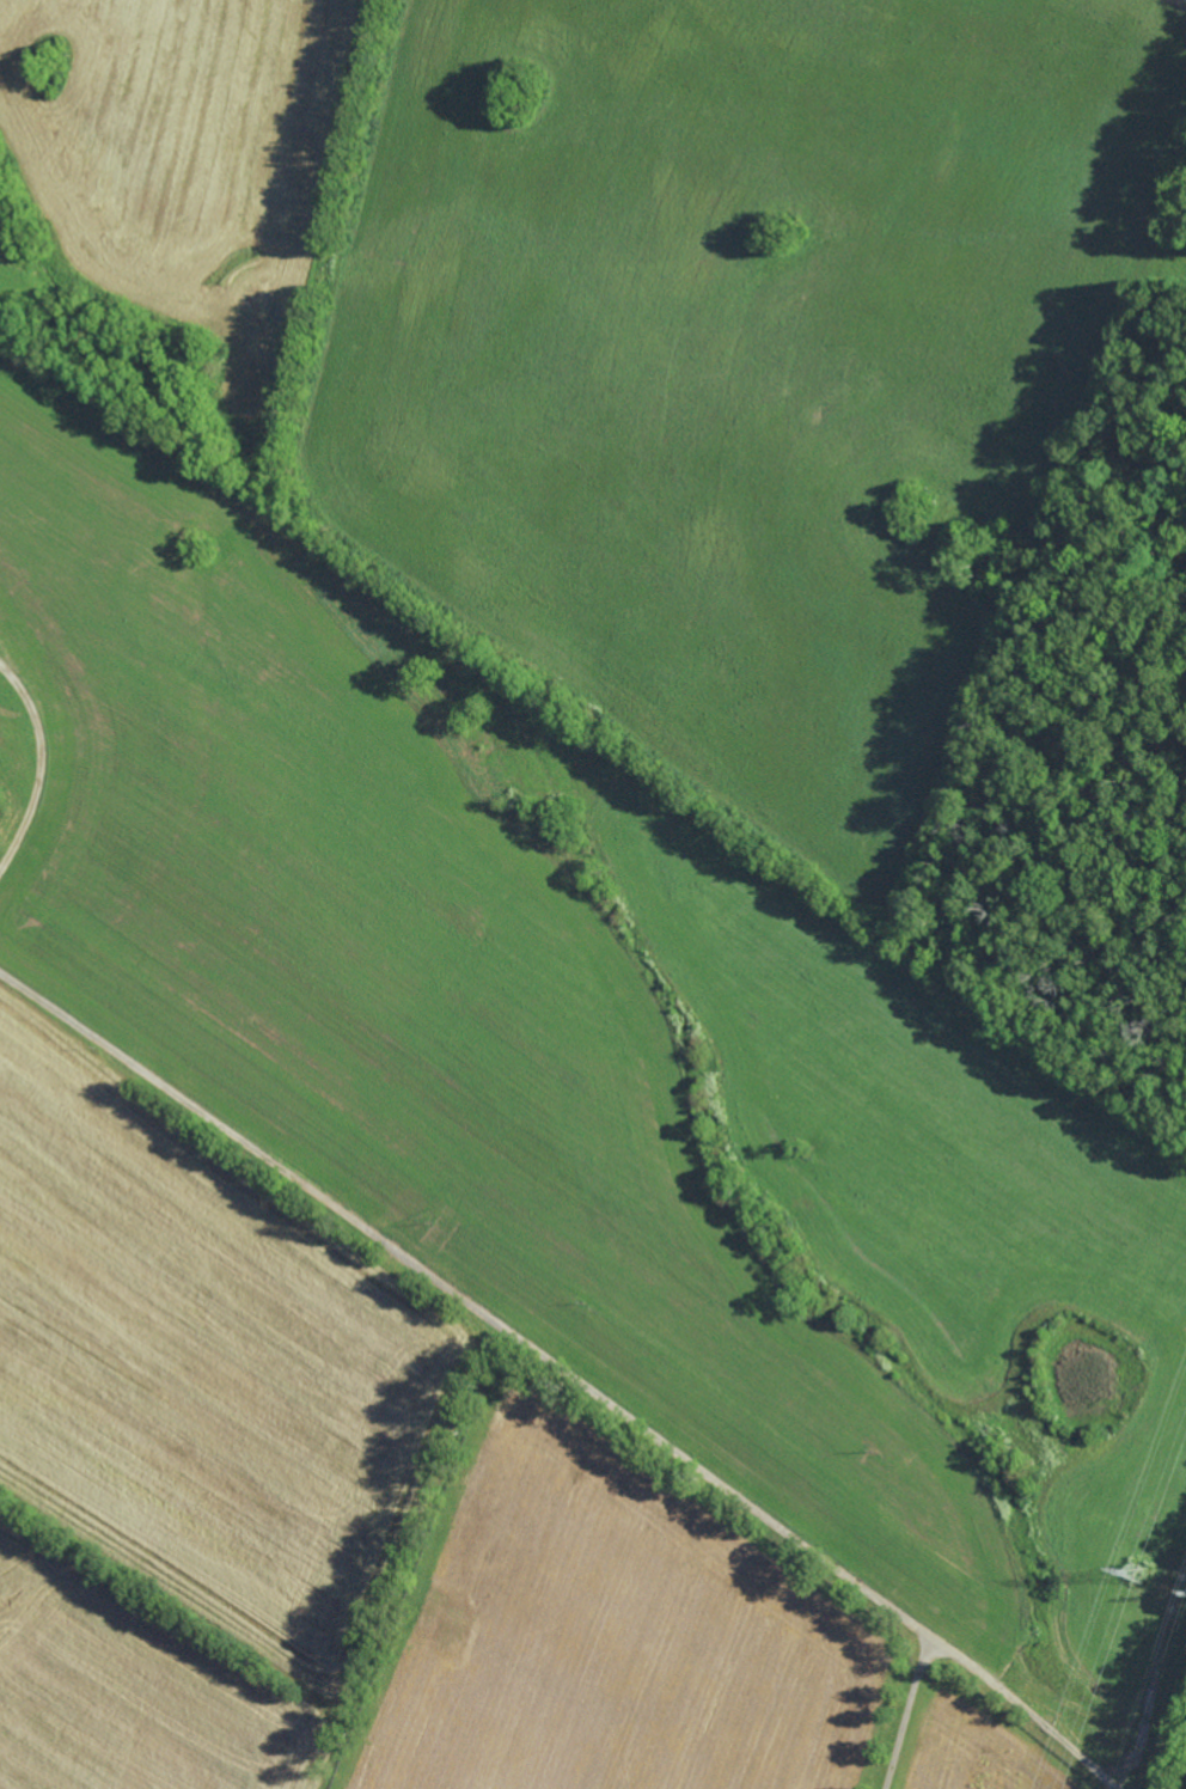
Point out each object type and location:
road: (39, 763)
road: (566, 1369)
power tower: (1142, 1577)
road: (907, 1711)

